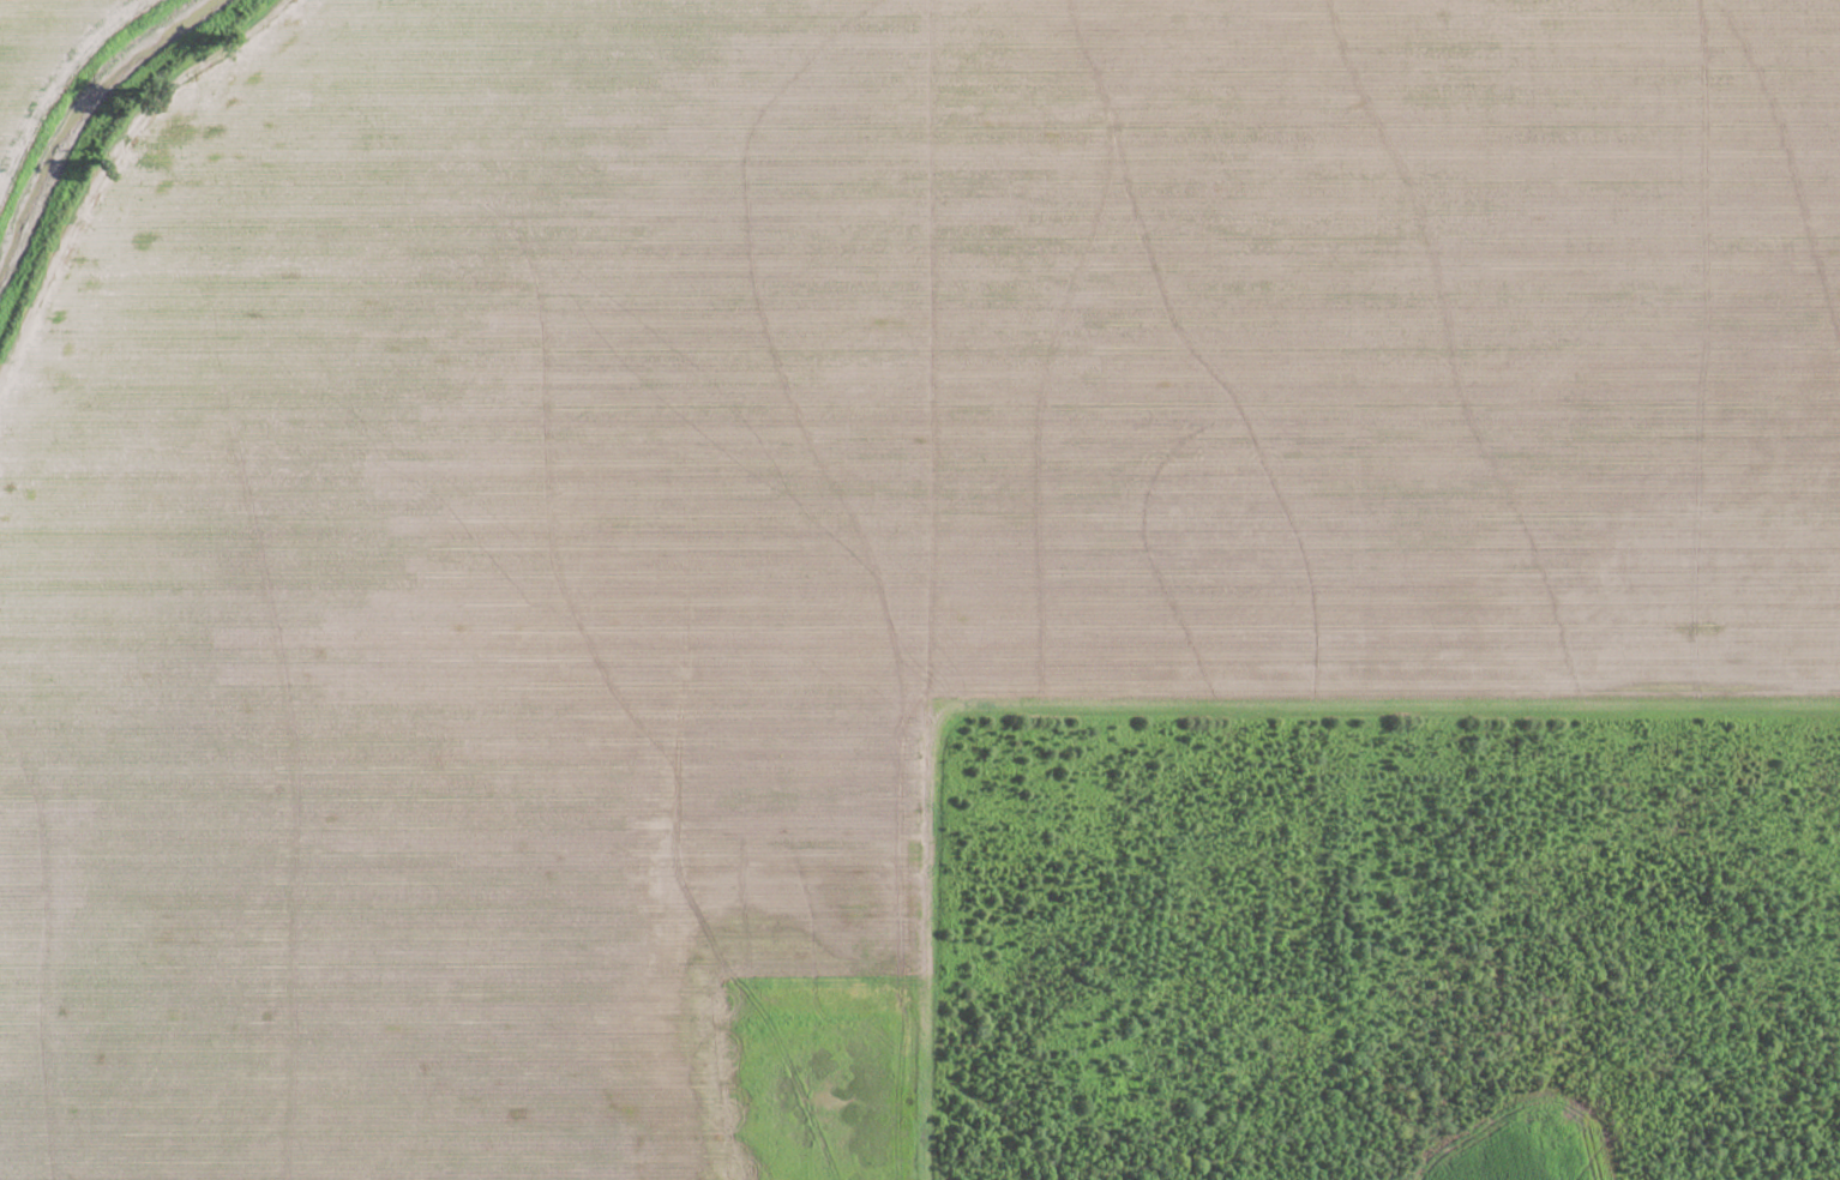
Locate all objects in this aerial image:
road: (110, 170)

